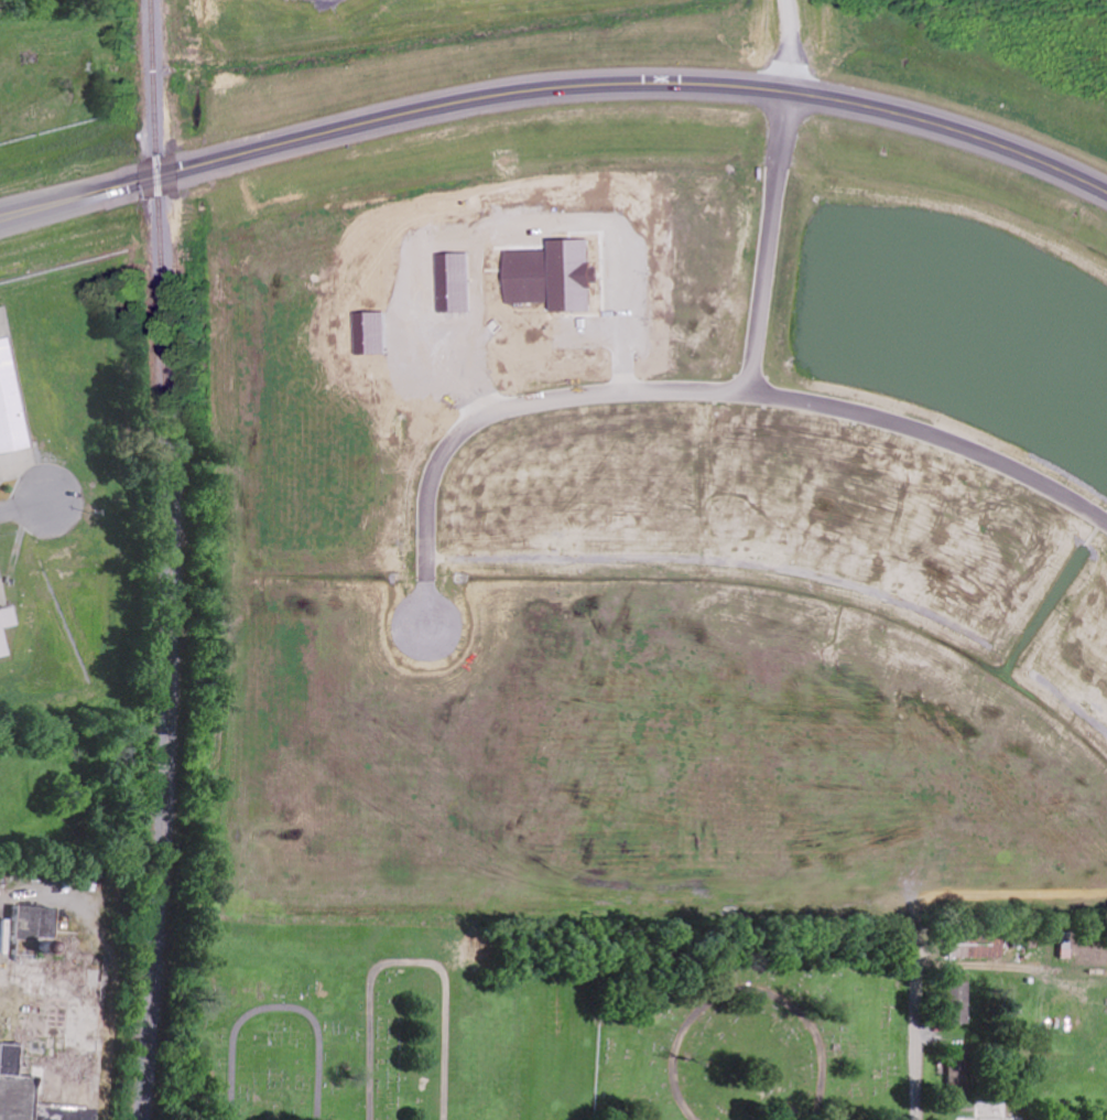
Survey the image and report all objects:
road: (554, 89)
road: (772, 244)
building: (10, 403)
road: (502, 411)
road: (937, 437)
road: (28, 504)
railway: (166, 560)
building: (2, 642)
building: (36, 923)
building: (978, 946)
building: (1067, 946)
park: (447, 1000)
building: (962, 1000)
park: (751, 1019)
road: (919, 1029)
park: (267, 1040)
building: (7, 1059)
building: (961, 1076)

